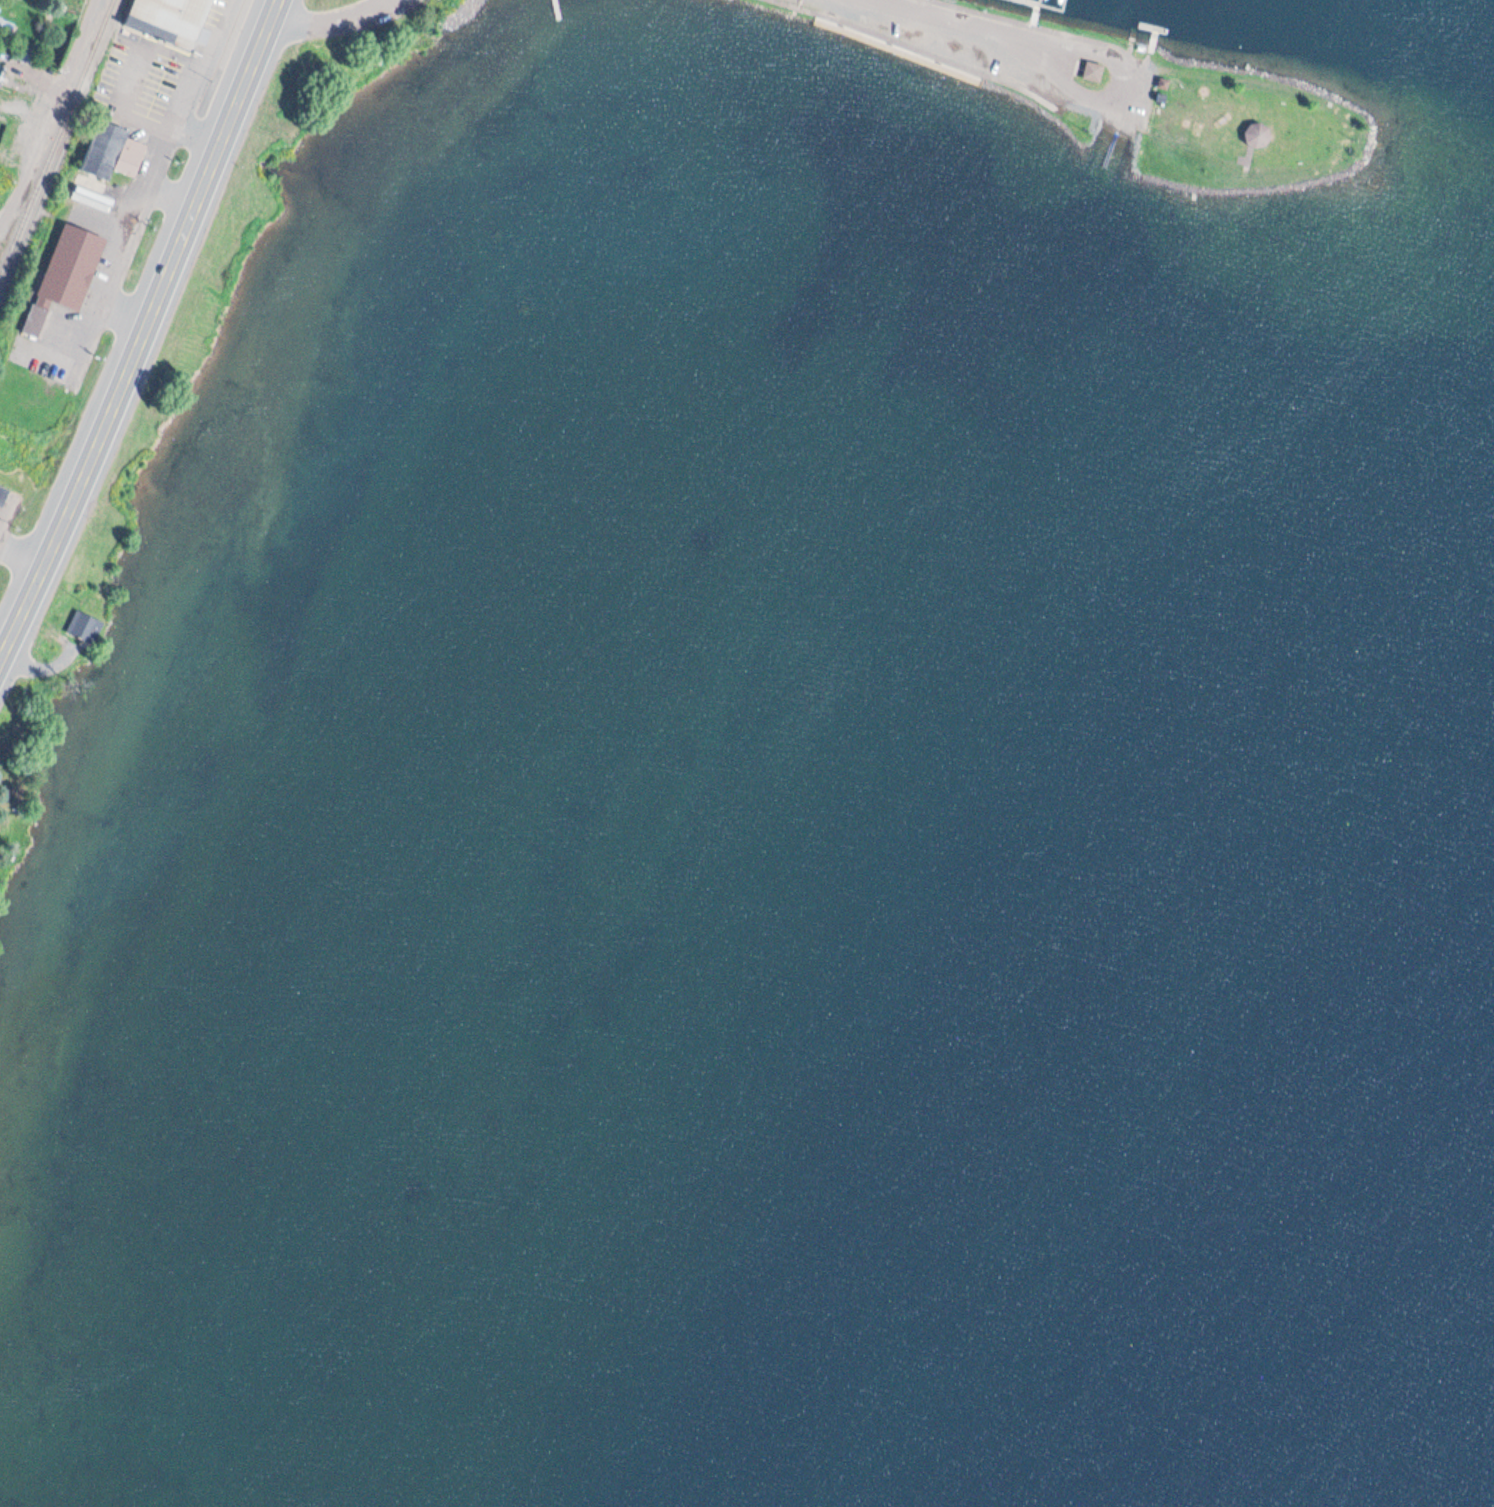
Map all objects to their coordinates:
building: (171, 20)
building: (7, 24)
road: (988, 50)
building: (1, 69)
building: (1094, 72)
road: (53, 116)
building: (1258, 136)
railway: (56, 140)
building: (104, 146)
building: (132, 156)
building: (65, 274)
road: (146, 333)
building: (3, 494)
road: (24, 551)
building: (85, 624)

